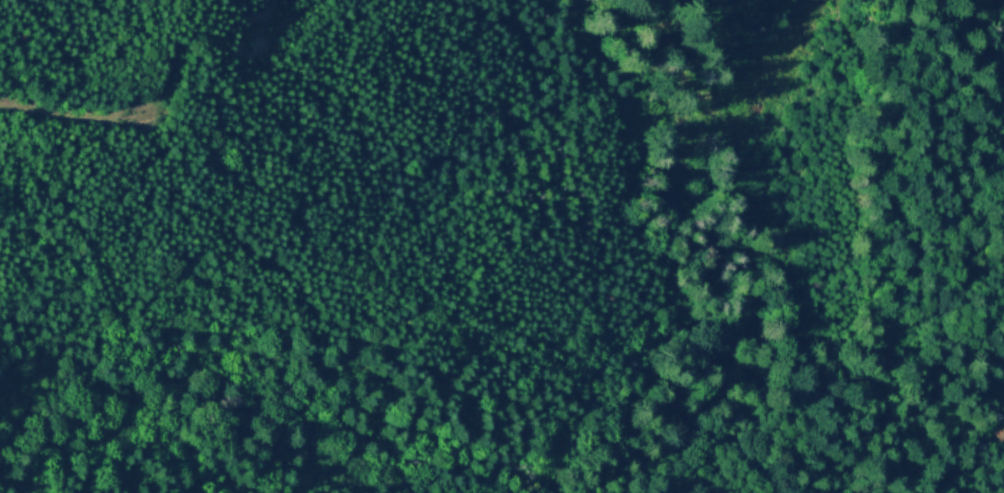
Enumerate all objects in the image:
road: (98, 119)

